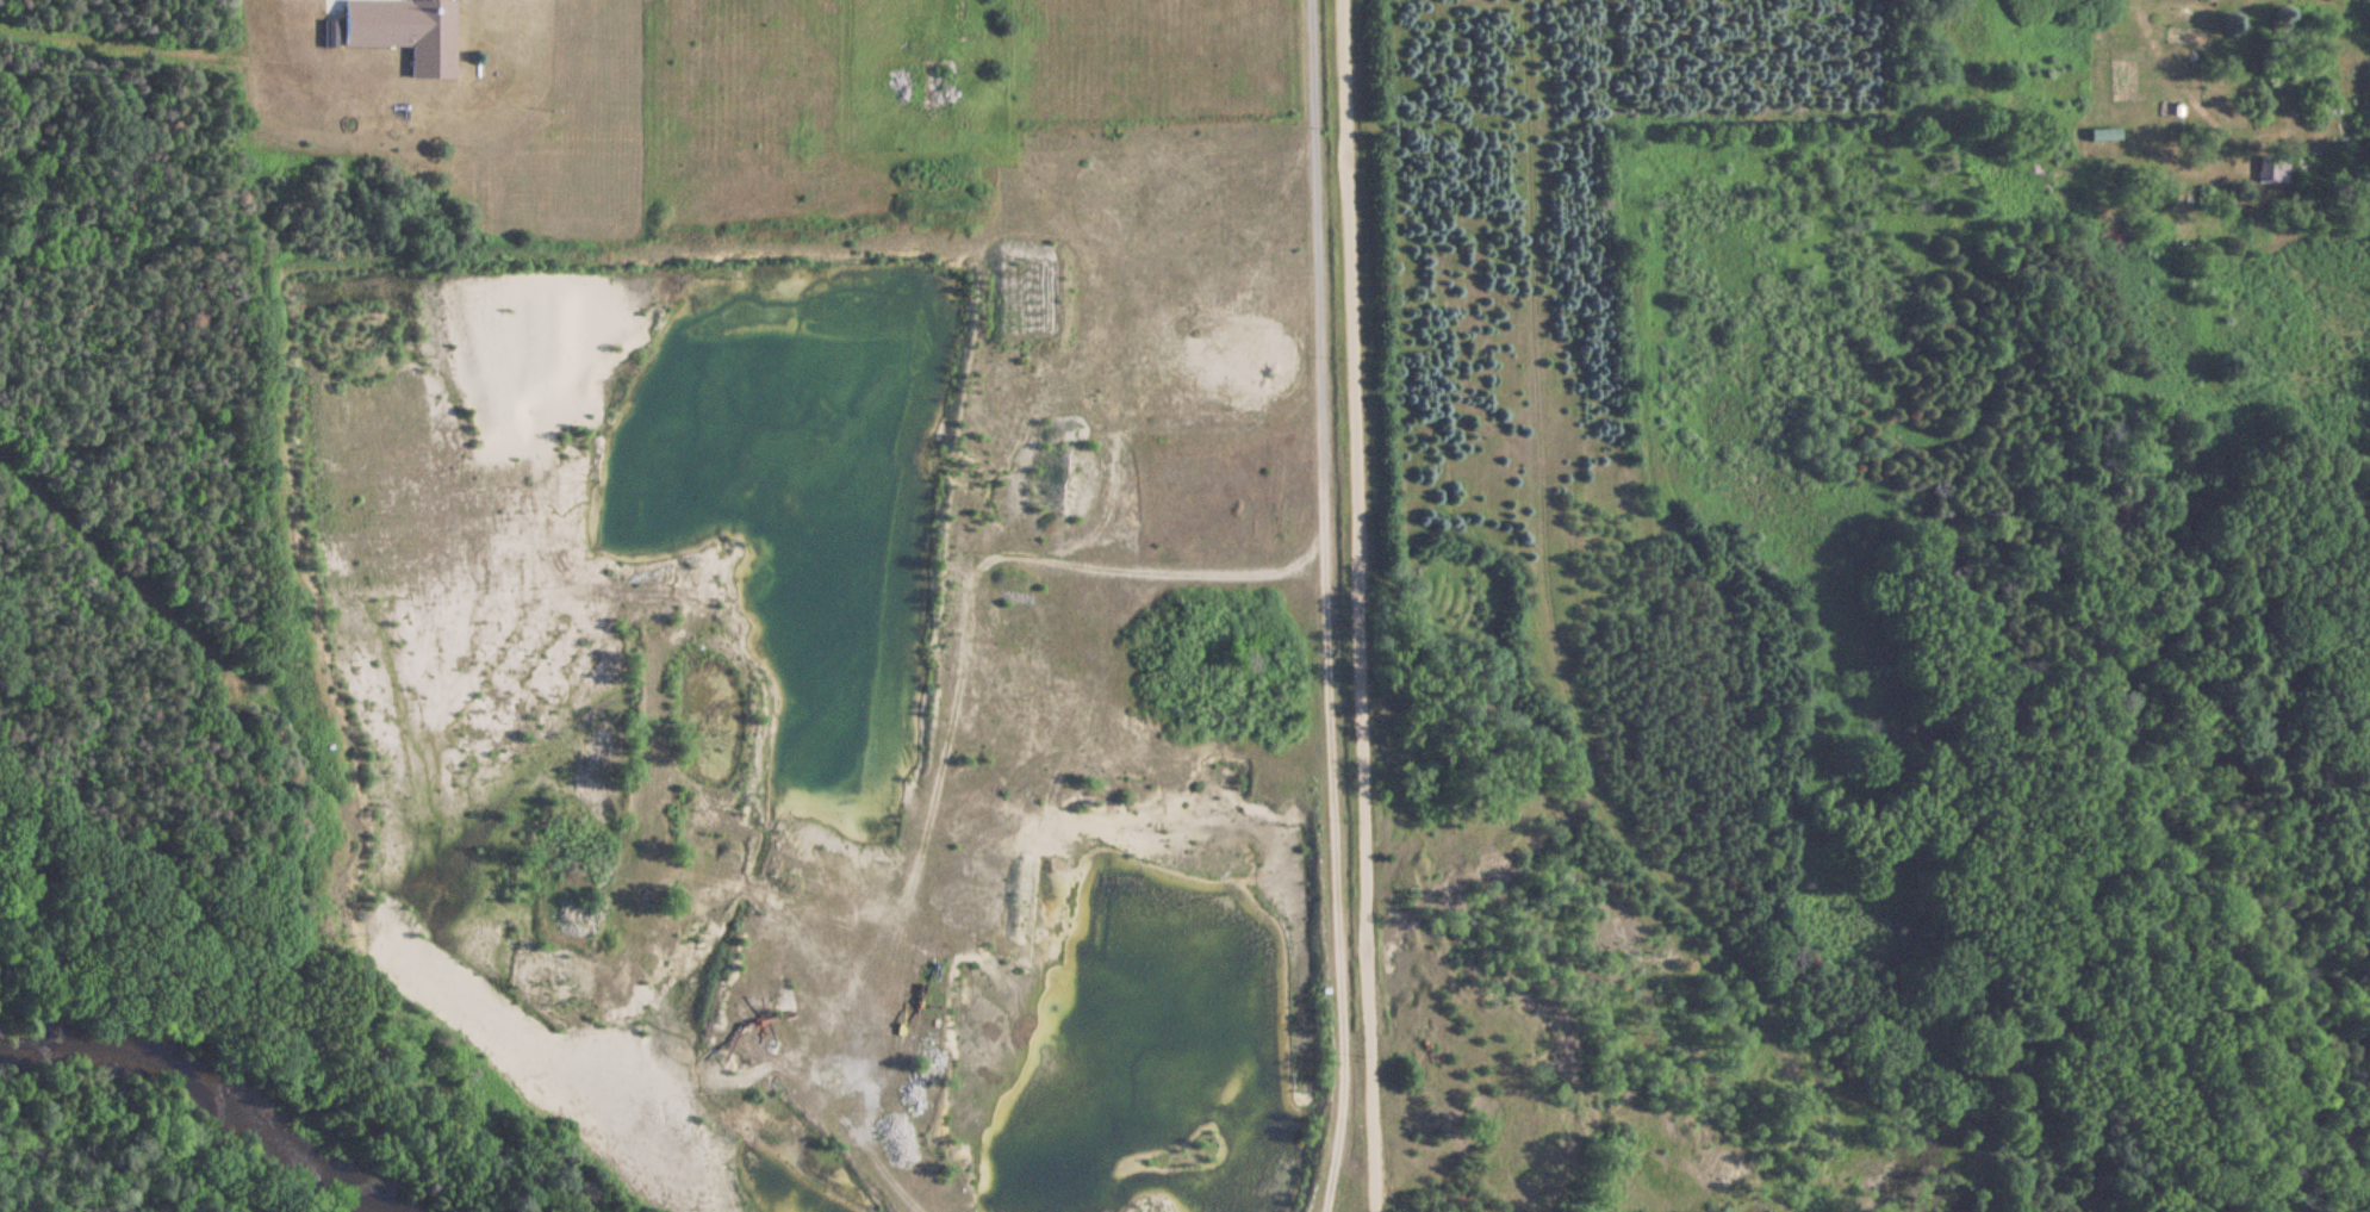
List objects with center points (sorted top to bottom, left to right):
building: (405, 31)
building: (2269, 169)
road: (1356, 605)
road: (1320, 607)
river: (209, 1093)

